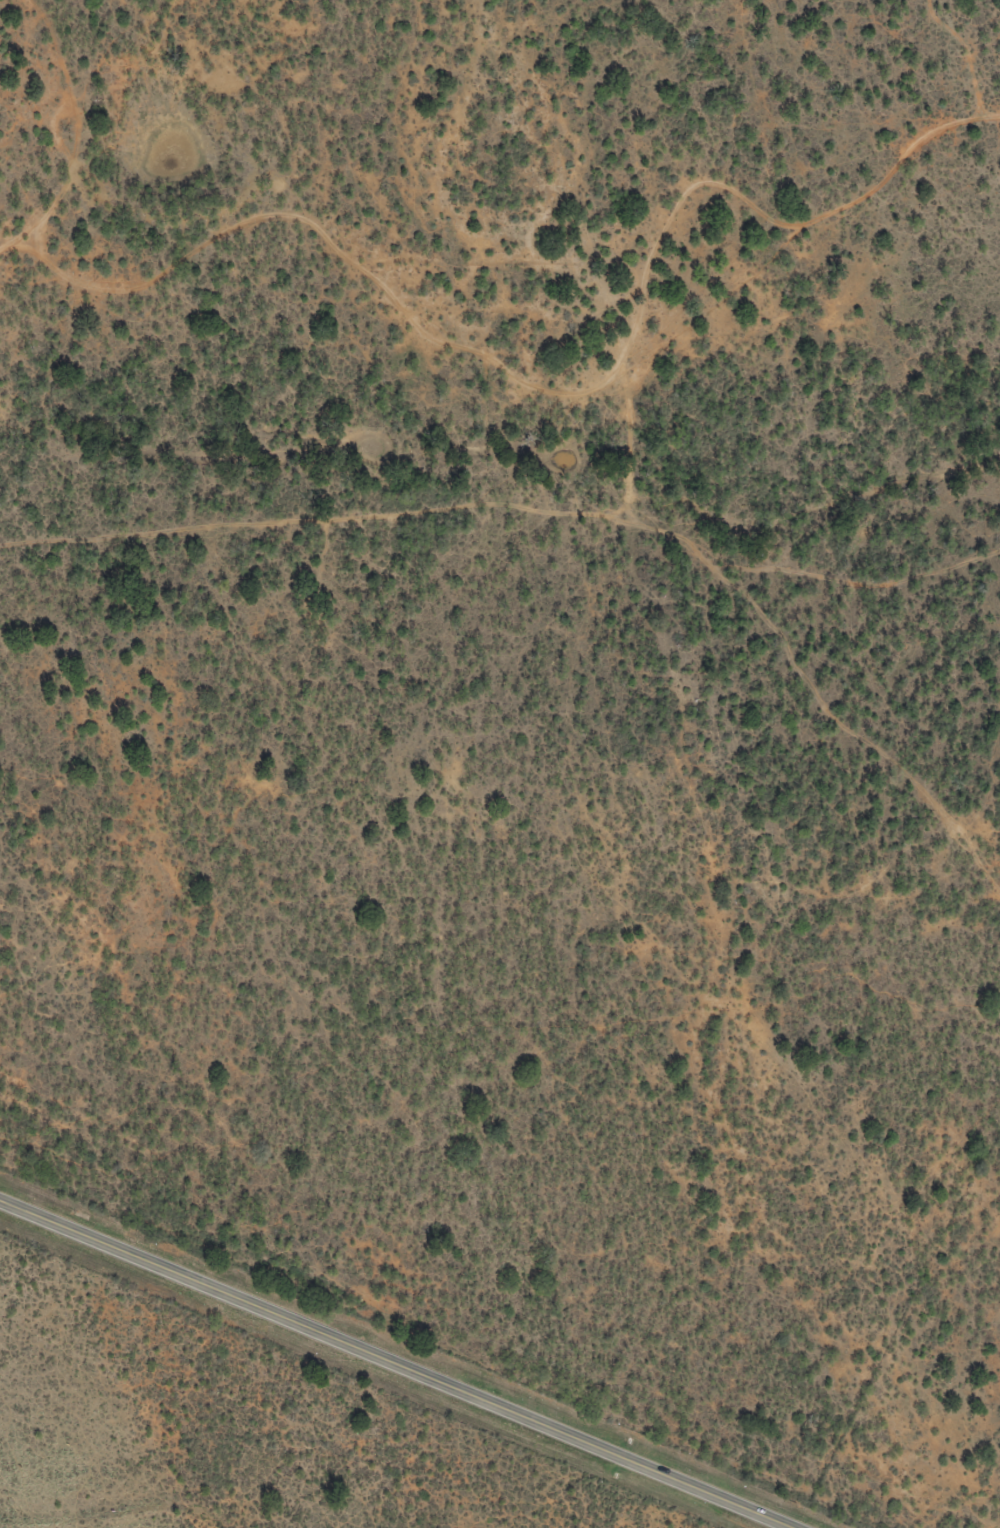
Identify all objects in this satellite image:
road: (604, 395)
road: (395, 1366)

